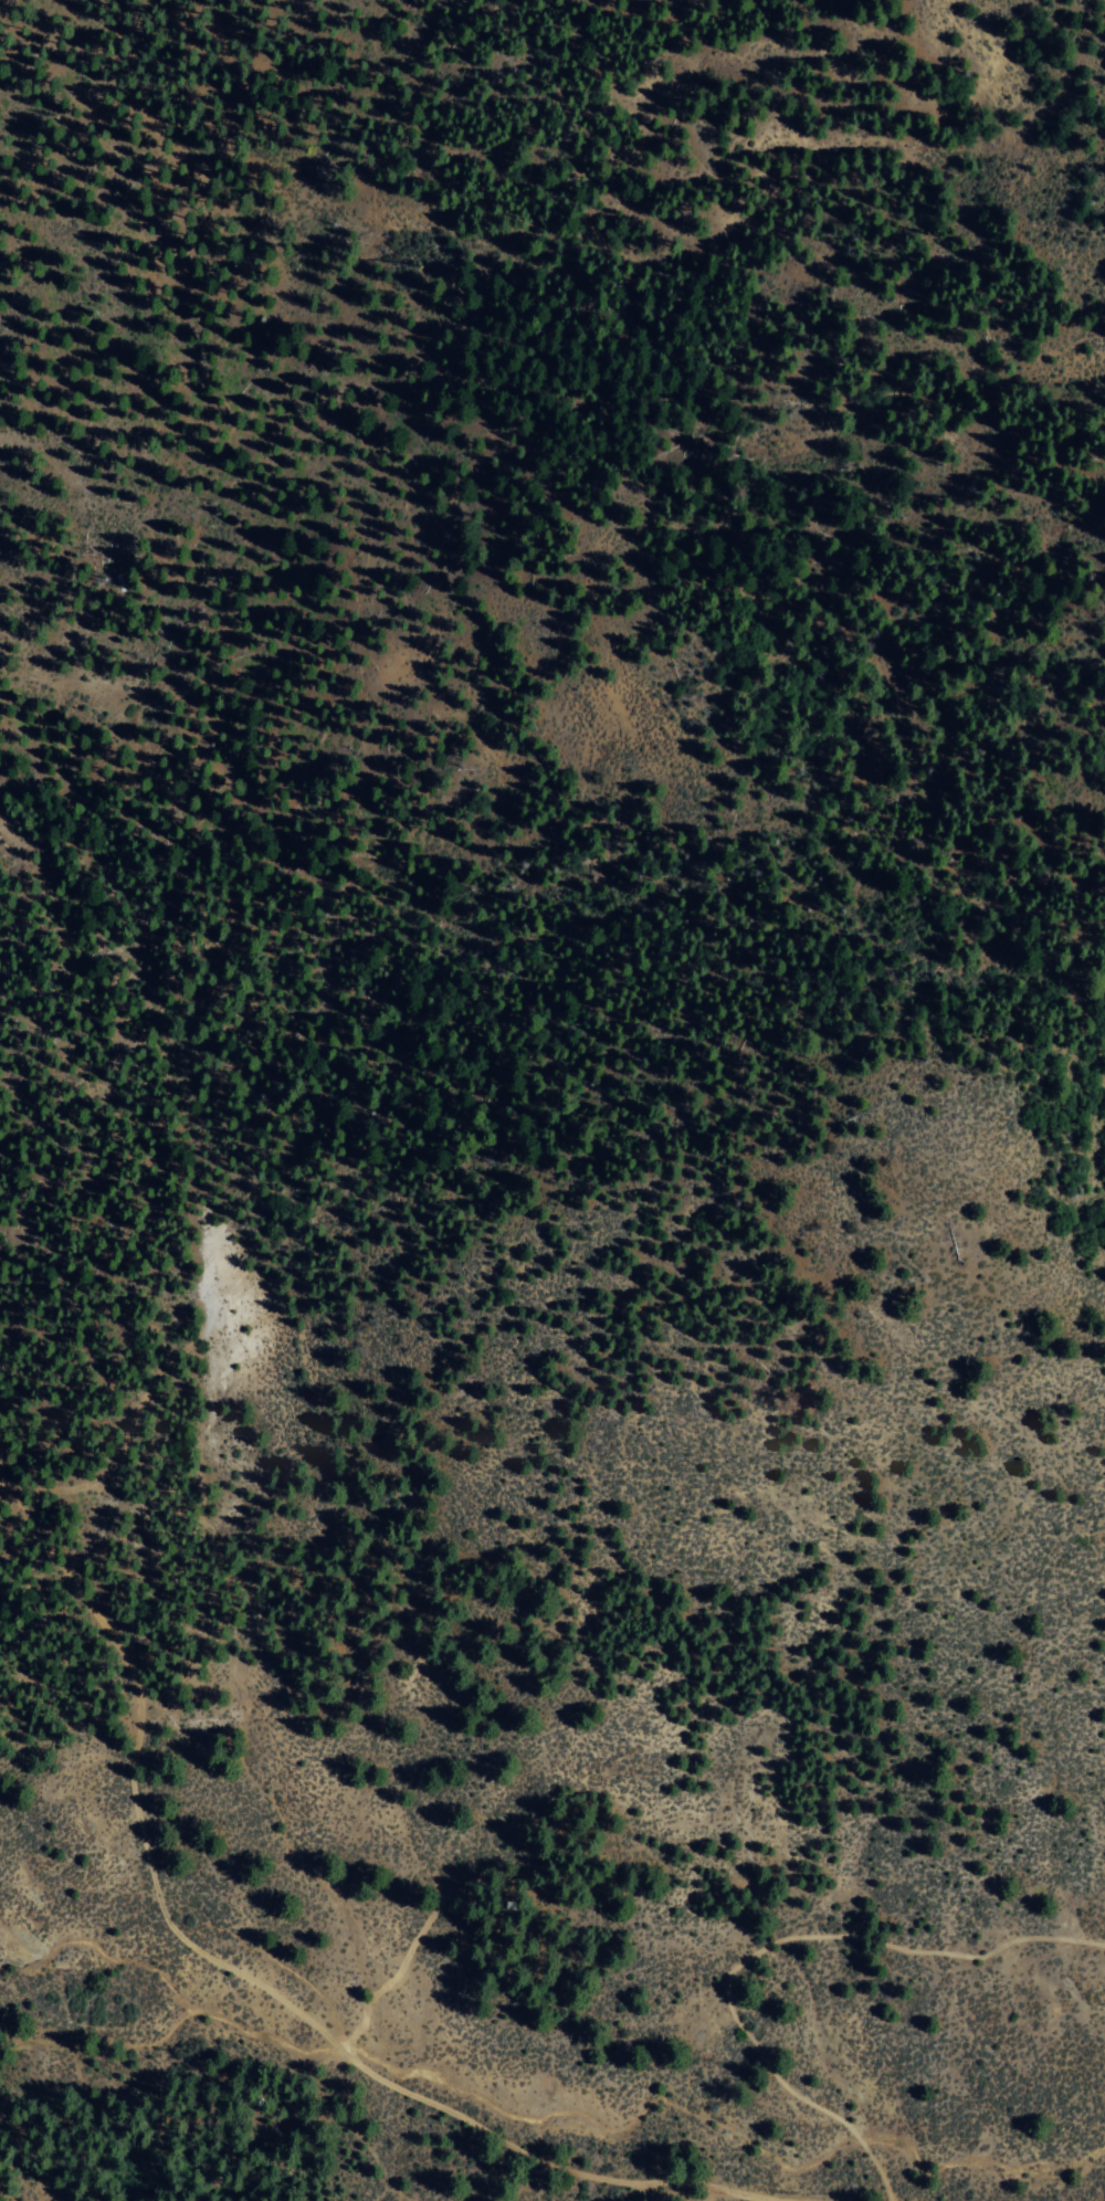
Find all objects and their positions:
road: (29, 1518)
road: (768, 1944)
road: (274, 1994)

